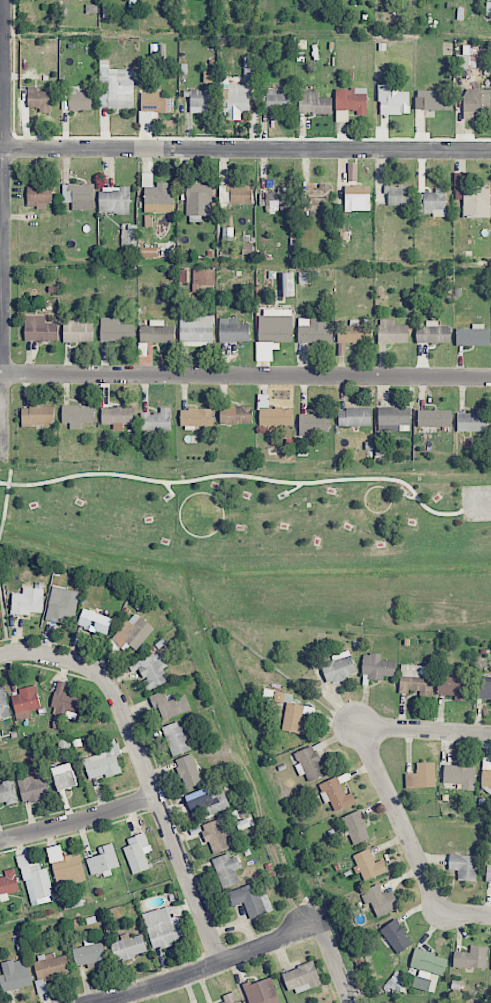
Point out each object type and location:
building: (467, 57)
building: (115, 87)
building: (238, 93)
building: (39, 99)
building: (476, 99)
building: (79, 100)
building: (200, 100)
building: (277, 100)
building: (393, 100)
building: (433, 100)
building: (155, 102)
building: (349, 102)
building: (313, 103)
road: (245, 149)
building: (235, 194)
building: (79, 195)
building: (398, 195)
building: (38, 196)
building: (315, 196)
building: (357, 197)
building: (158, 198)
building: (472, 198)
building: (114, 199)
building: (199, 199)
building: (277, 199)
building: (432, 202)
building: (148, 220)
road: (2, 230)
building: (129, 235)
building: (148, 252)
building: (305, 277)
building: (203, 280)
building: (287, 284)
building: (275, 325)
building: (39, 329)
building: (115, 329)
building: (233, 330)
building: (313, 330)
building: (77, 331)
building: (196, 331)
building: (156, 332)
building: (354, 332)
building: (392, 332)
building: (432, 333)
building: (473, 336)
road: (245, 375)
building: (274, 414)
building: (37, 415)
building: (77, 415)
building: (236, 415)
building: (117, 416)
building: (196, 417)
building: (354, 417)
building: (393, 418)
building: (434, 418)
building: (156, 420)
building: (472, 421)
building: (313, 424)
road: (241, 475)
road: (8, 486)
road: (478, 502)
parking lot: (476, 503)
road: (2, 526)
park: (269, 537)
building: (28, 601)
building: (62, 604)
road: (4, 621)
building: (94, 621)
building: (132, 632)
road: (35, 651)
building: (377, 666)
building: (338, 667)
building: (153, 670)
building: (415, 679)
building: (452, 687)
building: (483, 687)
building: (26, 702)
building: (66, 702)
building: (169, 704)
building: (3, 705)
building: (294, 719)
road: (424, 729)
building: (176, 738)
building: (104, 762)
building: (309, 763)
building: (188, 771)
building: (460, 775)
building: (486, 775)
building: (64, 776)
building: (422, 776)
building: (33, 787)
building: (8, 793)
building: (335, 794)
road: (159, 800)
building: (206, 801)
road: (79, 821)
building: (356, 827)
building: (217, 834)
road: (409, 841)
building: (137, 852)
building: (103, 860)
building: (368, 865)
building: (464, 866)
building: (66, 867)
building: (227, 869)
building: (488, 874)
building: (36, 882)
building: (8, 884)
building: (251, 899)
building: (379, 900)
building: (162, 928)
building: (396, 936)
building: (128, 947)
building: (90, 954)
building: (471, 958)
road: (336, 962)
building: (50, 966)
road: (210, 967)
building: (427, 967)
building: (15, 975)
building: (302, 978)
building: (261, 991)
building: (230, 998)

